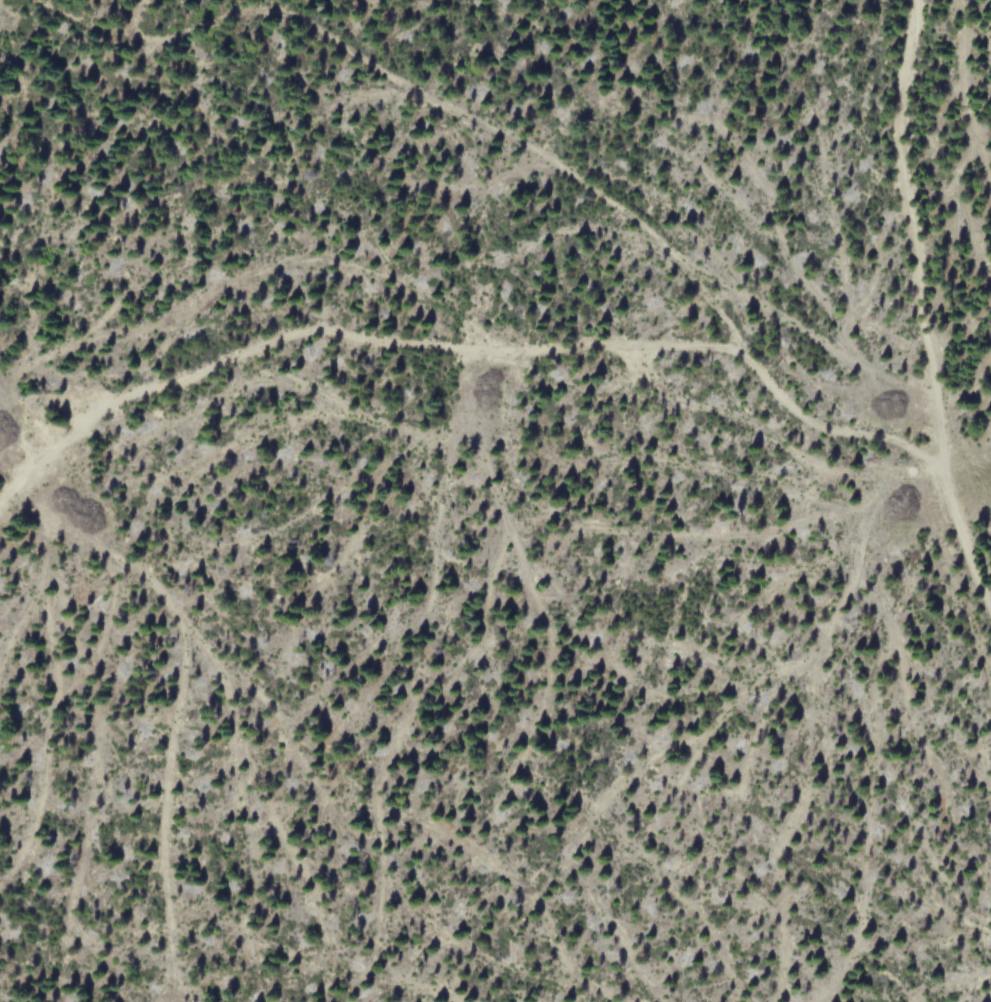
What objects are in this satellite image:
road: (923, 310)

